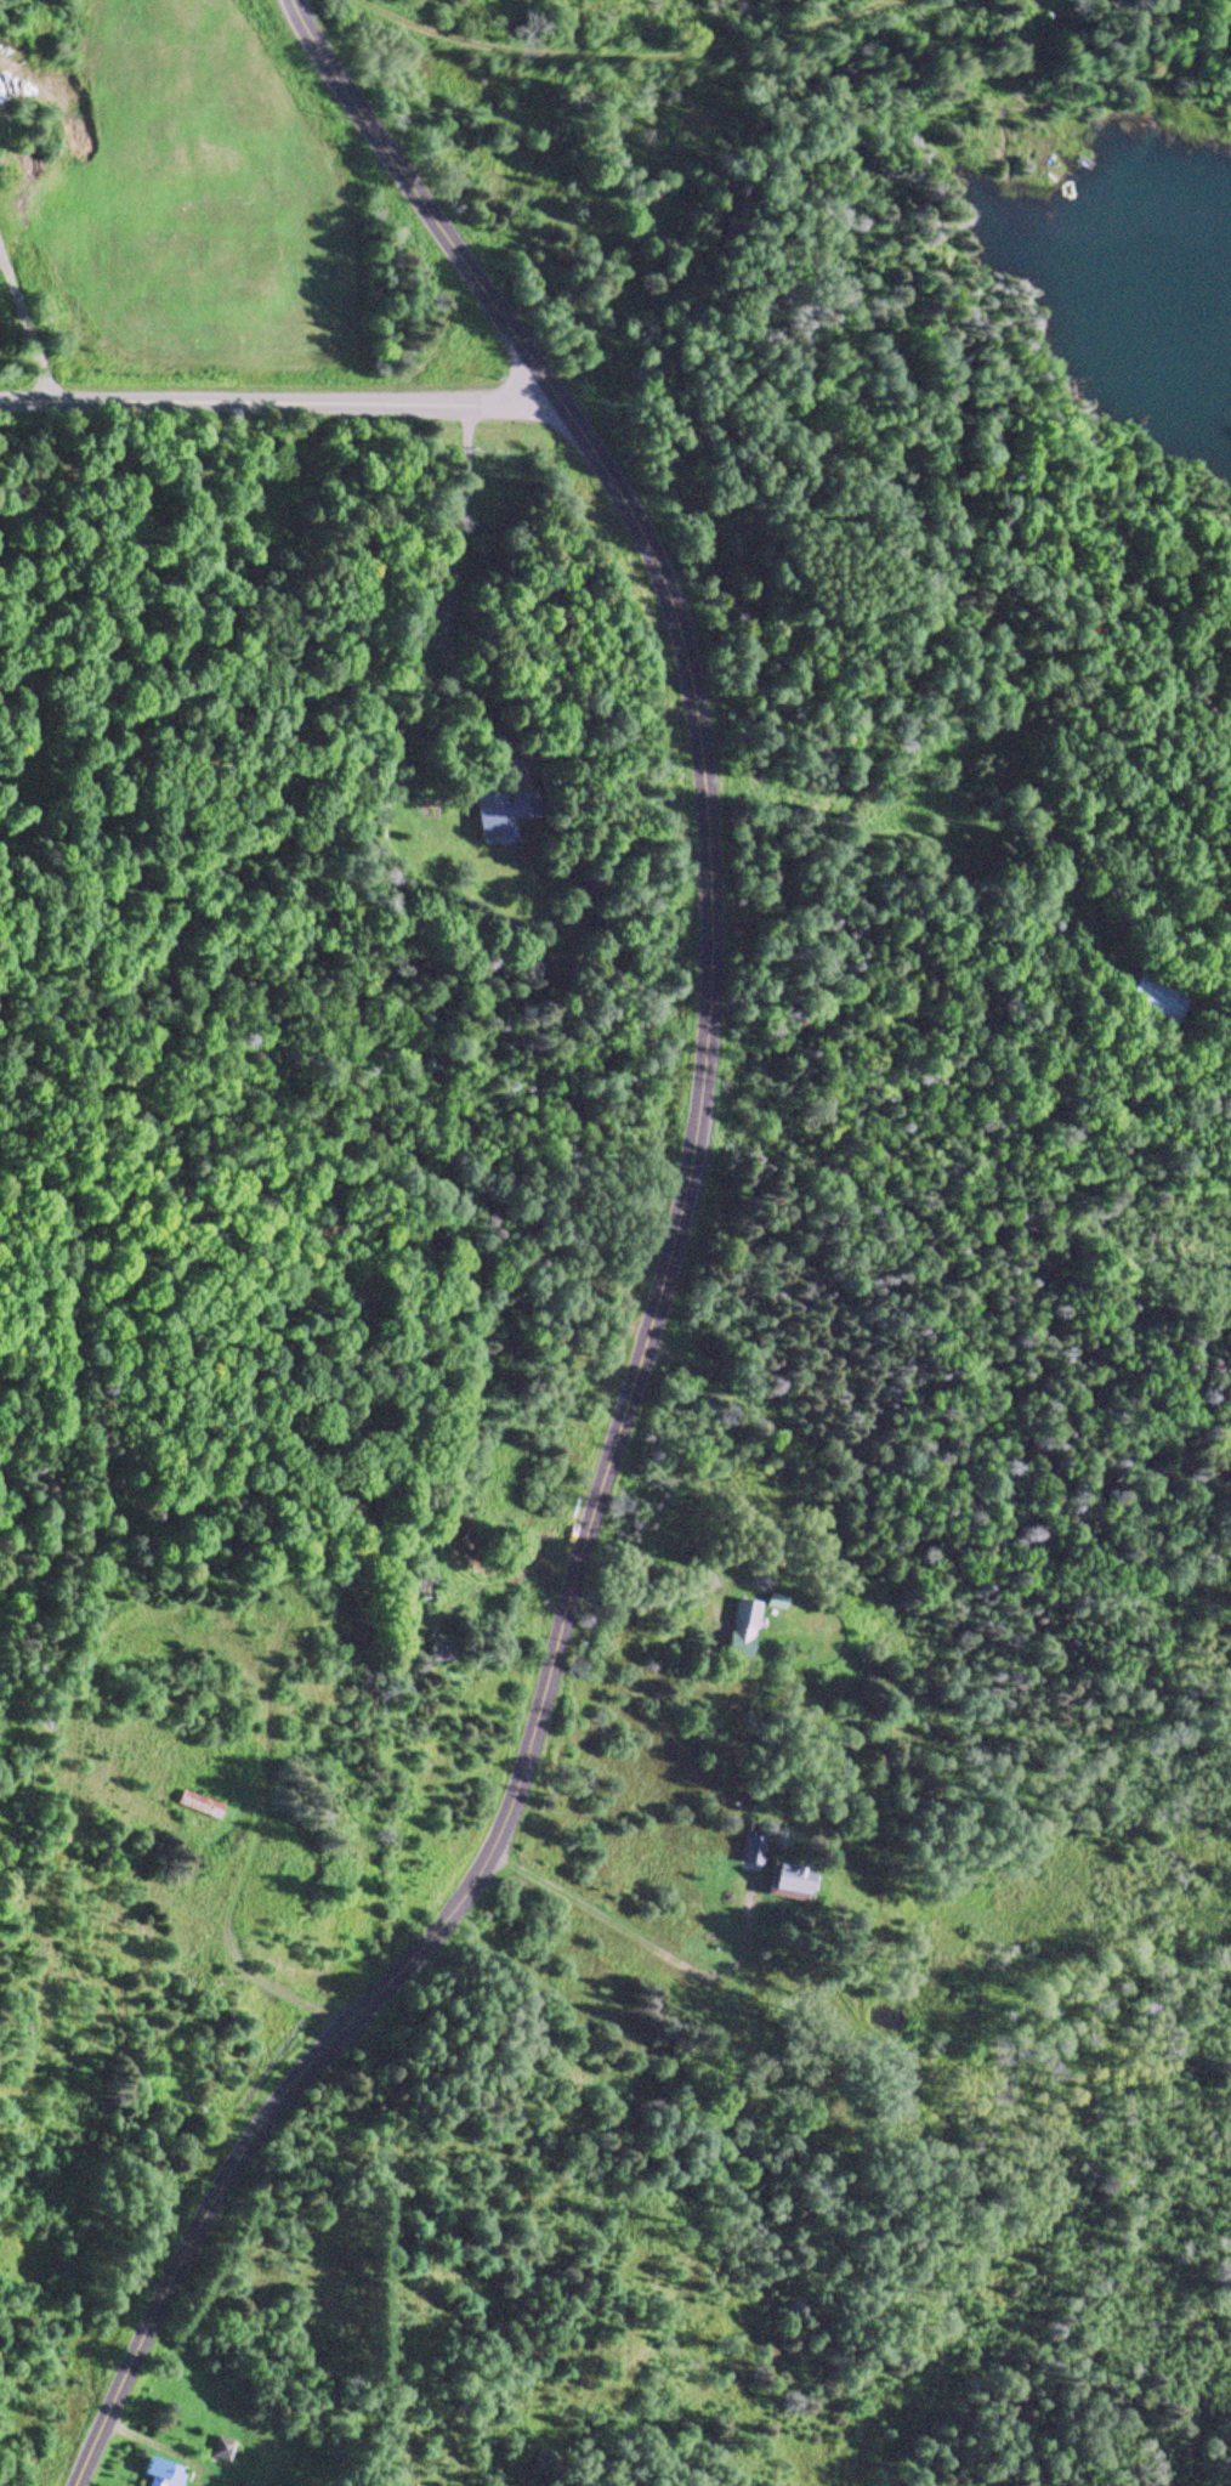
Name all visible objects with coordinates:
road: (223, 393)
road: (497, 398)
building: (510, 812)
building: (1150, 998)
road: (670, 1264)
building: (775, 1602)
building: (743, 1614)
building: (450, 1647)
building: (206, 1802)
building: (771, 1871)
road: (642, 1939)
building: (228, 2448)
building: (171, 2473)

